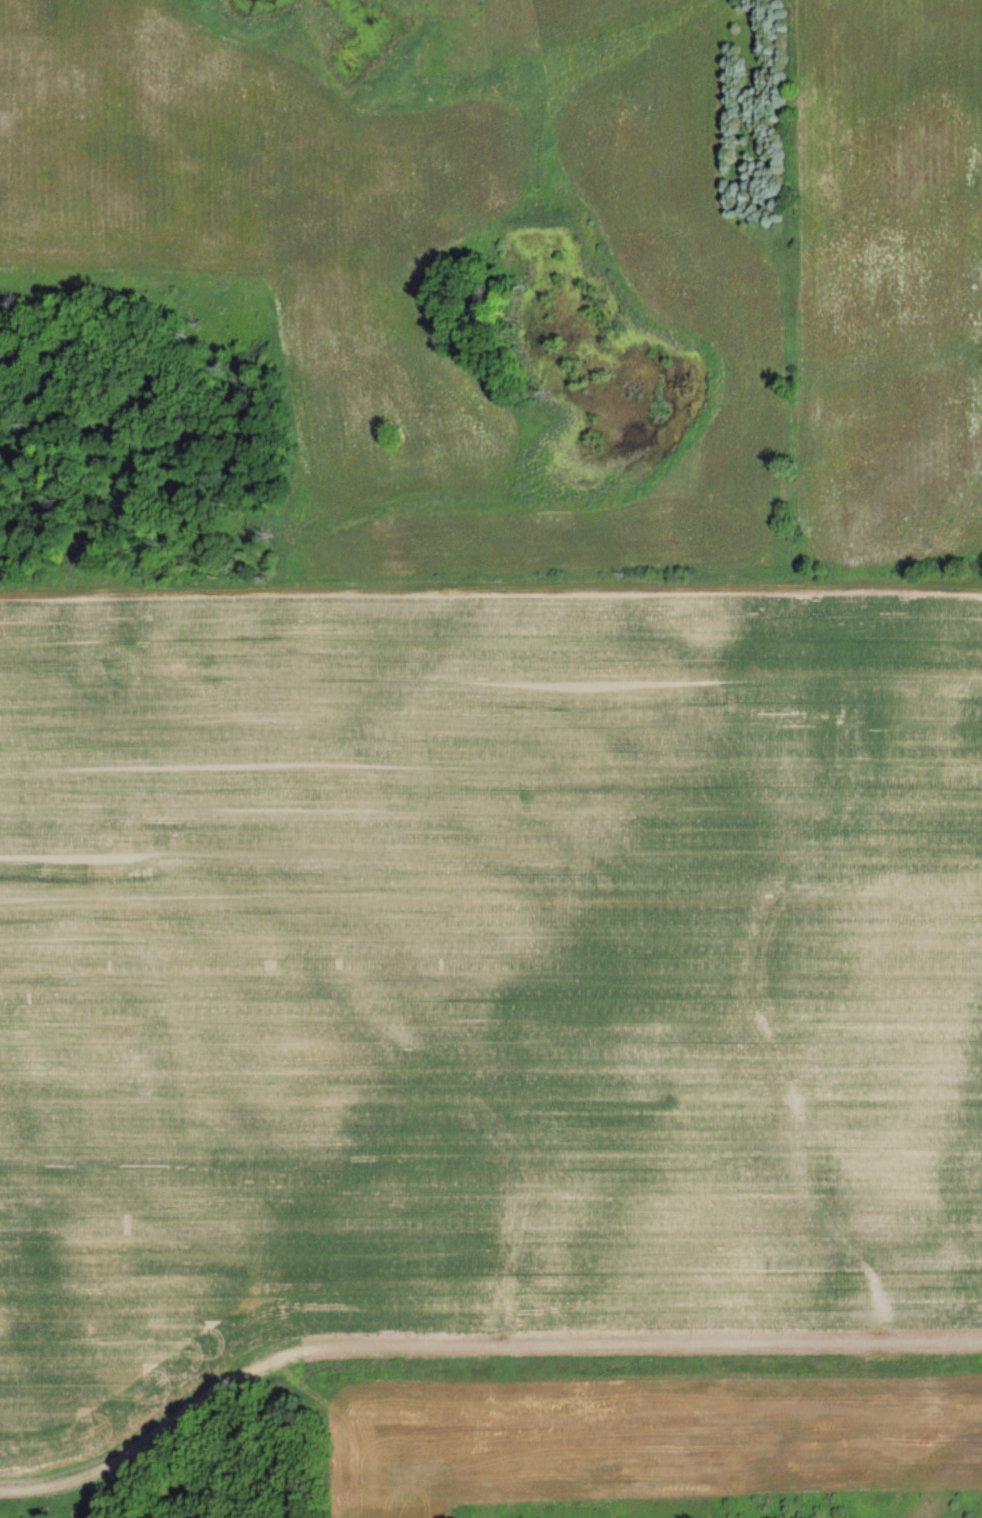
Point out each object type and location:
road: (472, 1346)

